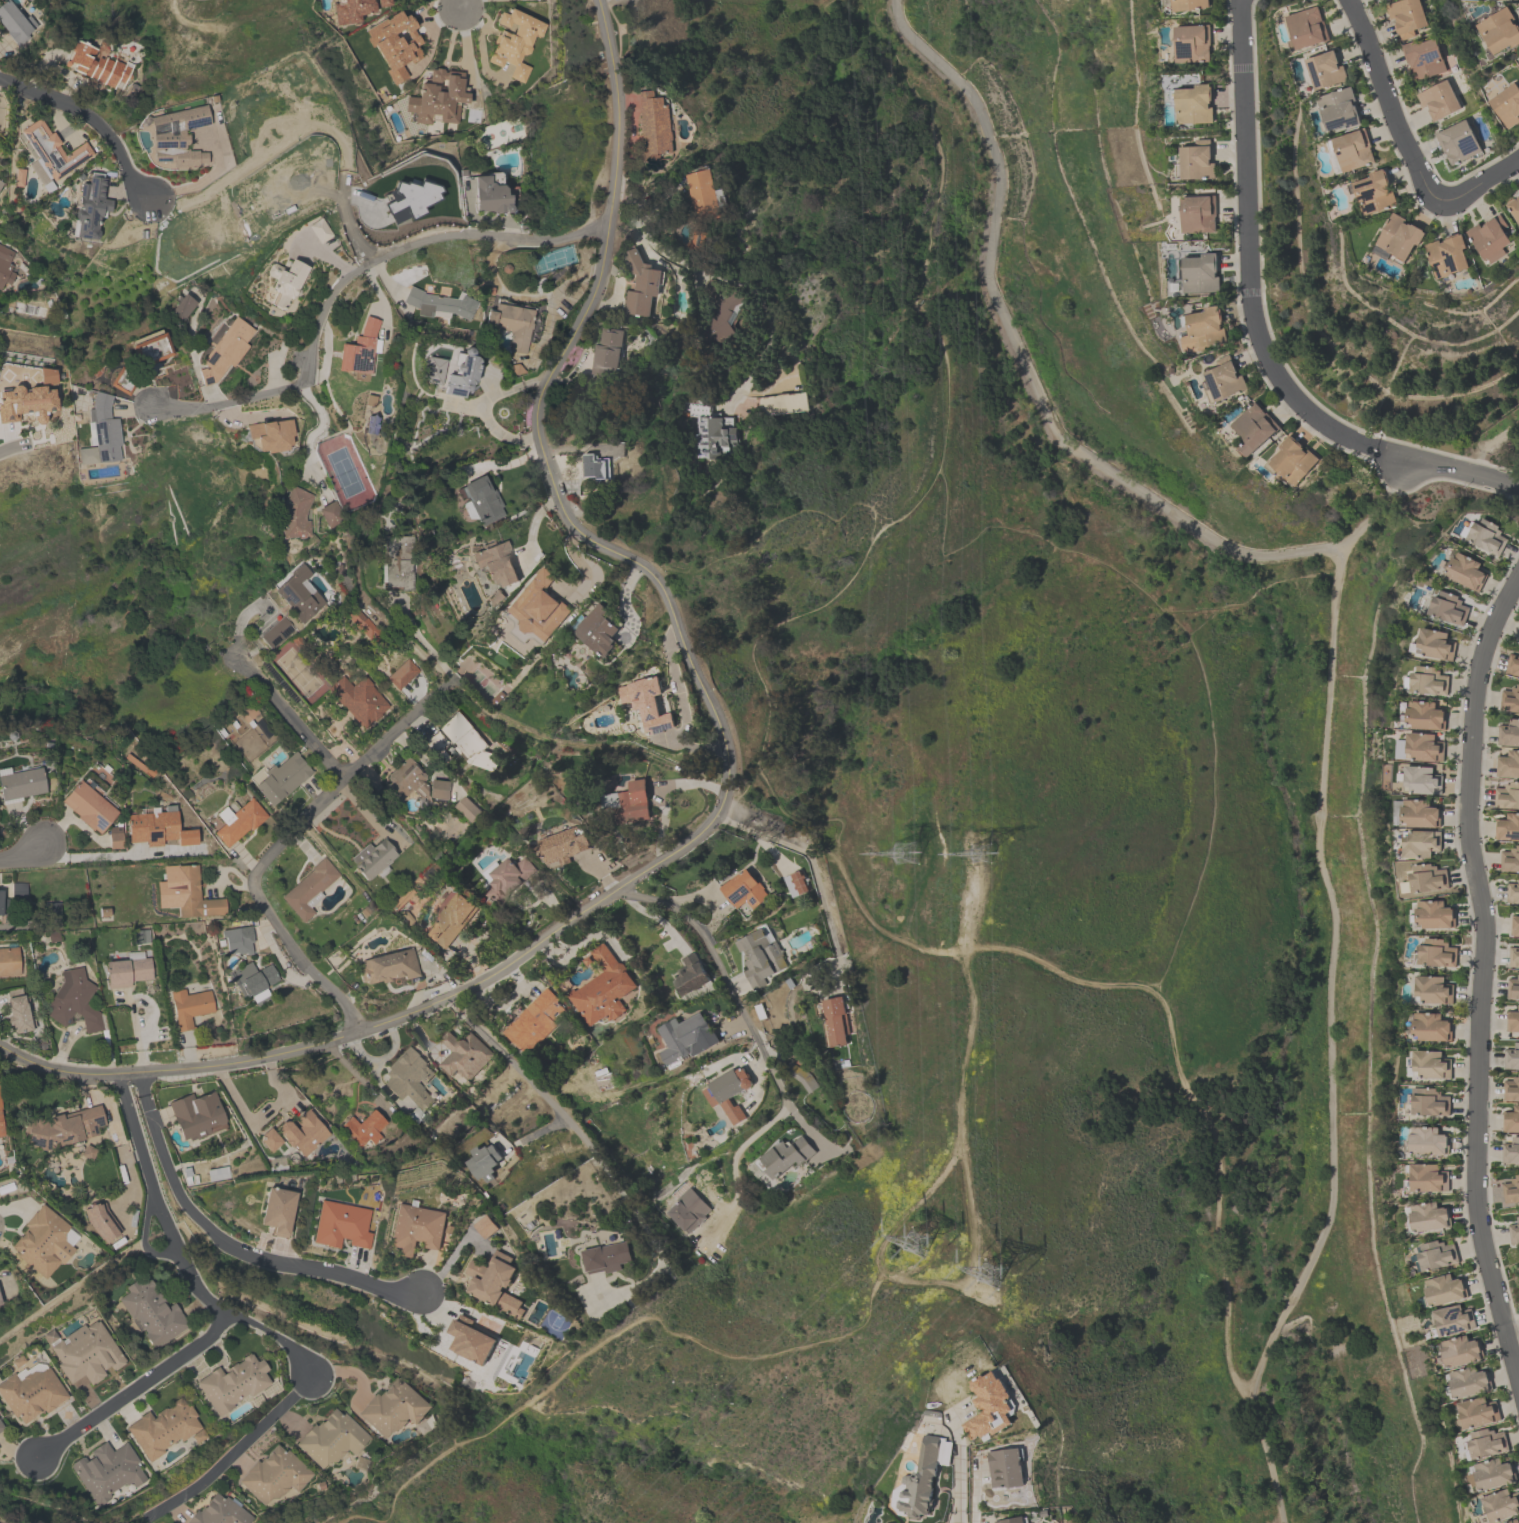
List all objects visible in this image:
building: (1503, 0)
building: (1189, 4)
road: (459, 5)
building: (350, 9)
building: (1406, 16)
building: (14, 20)
road: (433, 25)
road: (478, 26)
building: (1307, 28)
building: (1500, 30)
road: (464, 41)
building: (514, 41)
building: (394, 42)
building: (1192, 43)
building: (1424, 58)
building: (97, 65)
building: (1325, 70)
building: (437, 98)
building: (1439, 100)
road: (1395, 104)
building: (1507, 104)
building: (1194, 105)
building: (1338, 109)
road: (90, 118)
building: (654, 125)
building: (175, 135)
building: (1457, 142)
building: (48, 148)
building: (1351, 149)
building: (1195, 161)
road: (204, 178)
road: (1480, 181)
building: (0, 182)
building: (490, 193)
building: (701, 193)
building: (1373, 193)
building: (412, 195)
building: (90, 206)
building: (1515, 207)
building: (1197, 214)
building: (319, 230)
building: (1399, 237)
building: (1490, 238)
road: (1249, 239)
building: (1447, 256)
building: (5, 265)
building: (1200, 273)
road: (346, 276)
building: (285, 281)
road: (730, 283)
building: (641, 284)
building: (438, 303)
building: (182, 306)
building: (722, 318)
building: (509, 323)
building: (1203, 329)
building: (151, 348)
building: (358, 348)
building: (224, 350)
building: (608, 350)
road: (1021, 358)
building: (432, 369)
building: (460, 373)
building: (46, 375)
building: (123, 380)
building: (1223, 380)
building: (26, 402)
road: (484, 407)
road: (243, 417)
building: (84, 419)
road: (536, 420)
building: (103, 427)
building: (1253, 428)
road: (311, 432)
building: (270, 435)
building: (714, 437)
road: (1363, 445)
road: (8, 446)
road: (1486, 452)
building: (94, 456)
road: (1390, 456)
building: (1292, 459)
building: (596, 467)
road: (1461, 477)
building: (481, 499)
building: (294, 512)
building: (329, 514)
building: (1487, 536)
building: (397, 561)
building: (496, 563)
building: (1466, 571)
building: (298, 593)
building: (539, 607)
building: (1449, 608)
building: (598, 630)
building: (276, 631)
building: (1518, 637)
building: (1435, 644)
building: (1513, 664)
building: (401, 673)
building: (1429, 681)
building: (358, 699)
building: (1510, 699)
building: (647, 703)
building: (1425, 715)
road: (290, 716)
building: (1509, 732)
building: (468, 741)
building: (435, 745)
road: (618, 747)
building: (1424, 747)
building: (1508, 764)
building: (278, 777)
building: (1422, 780)
building: (413, 781)
building: (20, 783)
road: (661, 790)
building: (1507, 795)
building: (633, 803)
building: (88, 804)
road: (369, 804)
building: (467, 808)
building: (1420, 814)
building: (237, 820)
building: (157, 827)
building: (1508, 827)
building: (114, 836)
road: (304, 843)
building: (1420, 843)
building: (563, 845)
power tower: (924, 845)
road: (23, 851)
road: (271, 851)
power tower: (994, 851)
road: (90, 854)
building: (371, 857)
park: (983, 858)
road: (609, 864)
road: (814, 872)
building: (508, 877)
building: (1424, 879)
building: (796, 884)
building: (308, 888)
building: (744, 889)
building: (0, 892)
building: (185, 892)
building: (1513, 892)
road: (692, 897)
road: (550, 901)
building: (3, 905)
building: (1434, 915)
road: (657, 916)
building: (450, 920)
building: (1515, 925)
building: (237, 939)
building: (1436, 953)
road: (471, 955)
building: (760, 956)
building: (1514, 956)
road: (279, 957)
building: (9, 960)
building: (388, 966)
building: (126, 971)
building: (690, 975)
road: (725, 976)
road: (1482, 976)
building: (252, 978)
building: (602, 988)
road: (1335, 988)
building: (1513, 988)
building: (1433, 990)
building: (74, 1000)
building: (189, 1005)
building: (19, 1013)
road: (396, 1016)
building: (835, 1021)
building: (1513, 1021)
building: (534, 1022)
building: (1429, 1027)
road: (136, 1029)
road: (422, 1035)
building: (686, 1037)
building: (464, 1054)
road: (381, 1057)
building: (1512, 1057)
building: (1431, 1065)
road: (518, 1068)
road: (756, 1070)
building: (408, 1077)
building: (802, 1078)
building: (1511, 1089)
building: (728, 1091)
road: (234, 1092)
building: (1429, 1102)
building: (196, 1114)
building: (1511, 1120)
building: (1, 1128)
building: (61, 1128)
building: (362, 1128)
road: (809, 1130)
road: (543, 1131)
building: (302, 1132)
building: (269, 1139)
building: (1428, 1141)
building: (87, 1151)
building: (1511, 1151)
building: (785, 1156)
building: (484, 1162)
road: (733, 1165)
road: (147, 1169)
building: (217, 1173)
building: (1427, 1178)
building: (1512, 1190)
building: (277, 1210)
building: (689, 1210)
building: (1428, 1217)
building: (100, 1221)
building: (341, 1224)
building: (485, 1226)
building: (415, 1228)
road: (647, 1230)
building: (1514, 1232)
building: (42, 1241)
power tower: (927, 1241)
road: (227, 1245)
building: (1436, 1255)
building: (606, 1257)
power tower: (1000, 1265)
building: (494, 1283)
building: (1444, 1290)
building: (0, 1303)
building: (153, 1311)
road: (247, 1319)
building: (1453, 1320)
building: (470, 1342)
road: (1514, 1343)
building: (1460, 1351)
building: (85, 1353)
road: (346, 1372)
building: (1469, 1382)
building: (232, 1383)
road: (137, 1385)
building: (30, 1393)
building: (990, 1406)
building: (393, 1407)
building: (1477, 1413)
building: (1, 1428)
building: (163, 1428)
building: (331, 1438)
building: (1486, 1443)
road: (234, 1450)
road: (959, 1464)
building: (1005, 1467)
building: (107, 1472)
building: (273, 1474)
building: (1493, 1474)
building: (924, 1476)
park: (43, 1498)
building: (1501, 1503)
building: (219, 1511)
building: (1011, 1520)
building: (1511, 1521)
building: (892, 1522)

